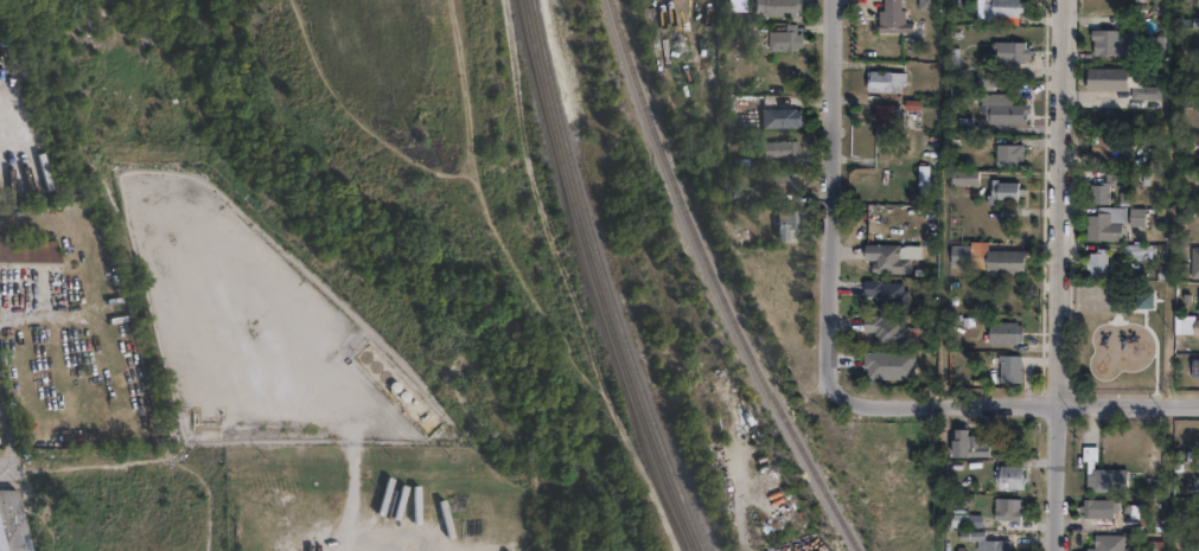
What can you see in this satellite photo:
building: (672, 2)
building: (921, 5)
building: (782, 7)
building: (999, 11)
building: (887, 17)
building: (783, 40)
building: (1109, 41)
building: (1006, 52)
building: (879, 81)
building: (1120, 81)
building: (1191, 97)
building: (999, 109)
building: (879, 117)
building: (780, 118)
building: (1101, 145)
building: (773, 149)
building: (1005, 155)
building: (961, 175)
building: (777, 182)
building: (917, 184)
building: (1104, 187)
building: (996, 191)
road: (833, 204)
building: (1135, 216)
building: (784, 223)
building: (1104, 223)
building: (1135, 250)
building: (31, 252)
building: (983, 258)
building: (882, 260)
building: (1098, 262)
building: (1193, 263)
road: (1061, 275)
railway: (591, 280)
railway: (607, 280)
railway: (725, 281)
building: (882, 294)
building: (1198, 297)
building: (1194, 326)
building: (881, 332)
building: (1000, 332)
building: (1194, 369)
building: (1003, 370)
road: (1022, 405)
building: (965, 441)
building: (1003, 474)
building: (1106, 476)
building: (1098, 505)
building: (1001, 506)
building: (959, 518)
building: (14, 523)
building: (983, 540)
building: (1106, 542)
building: (1165, 545)

